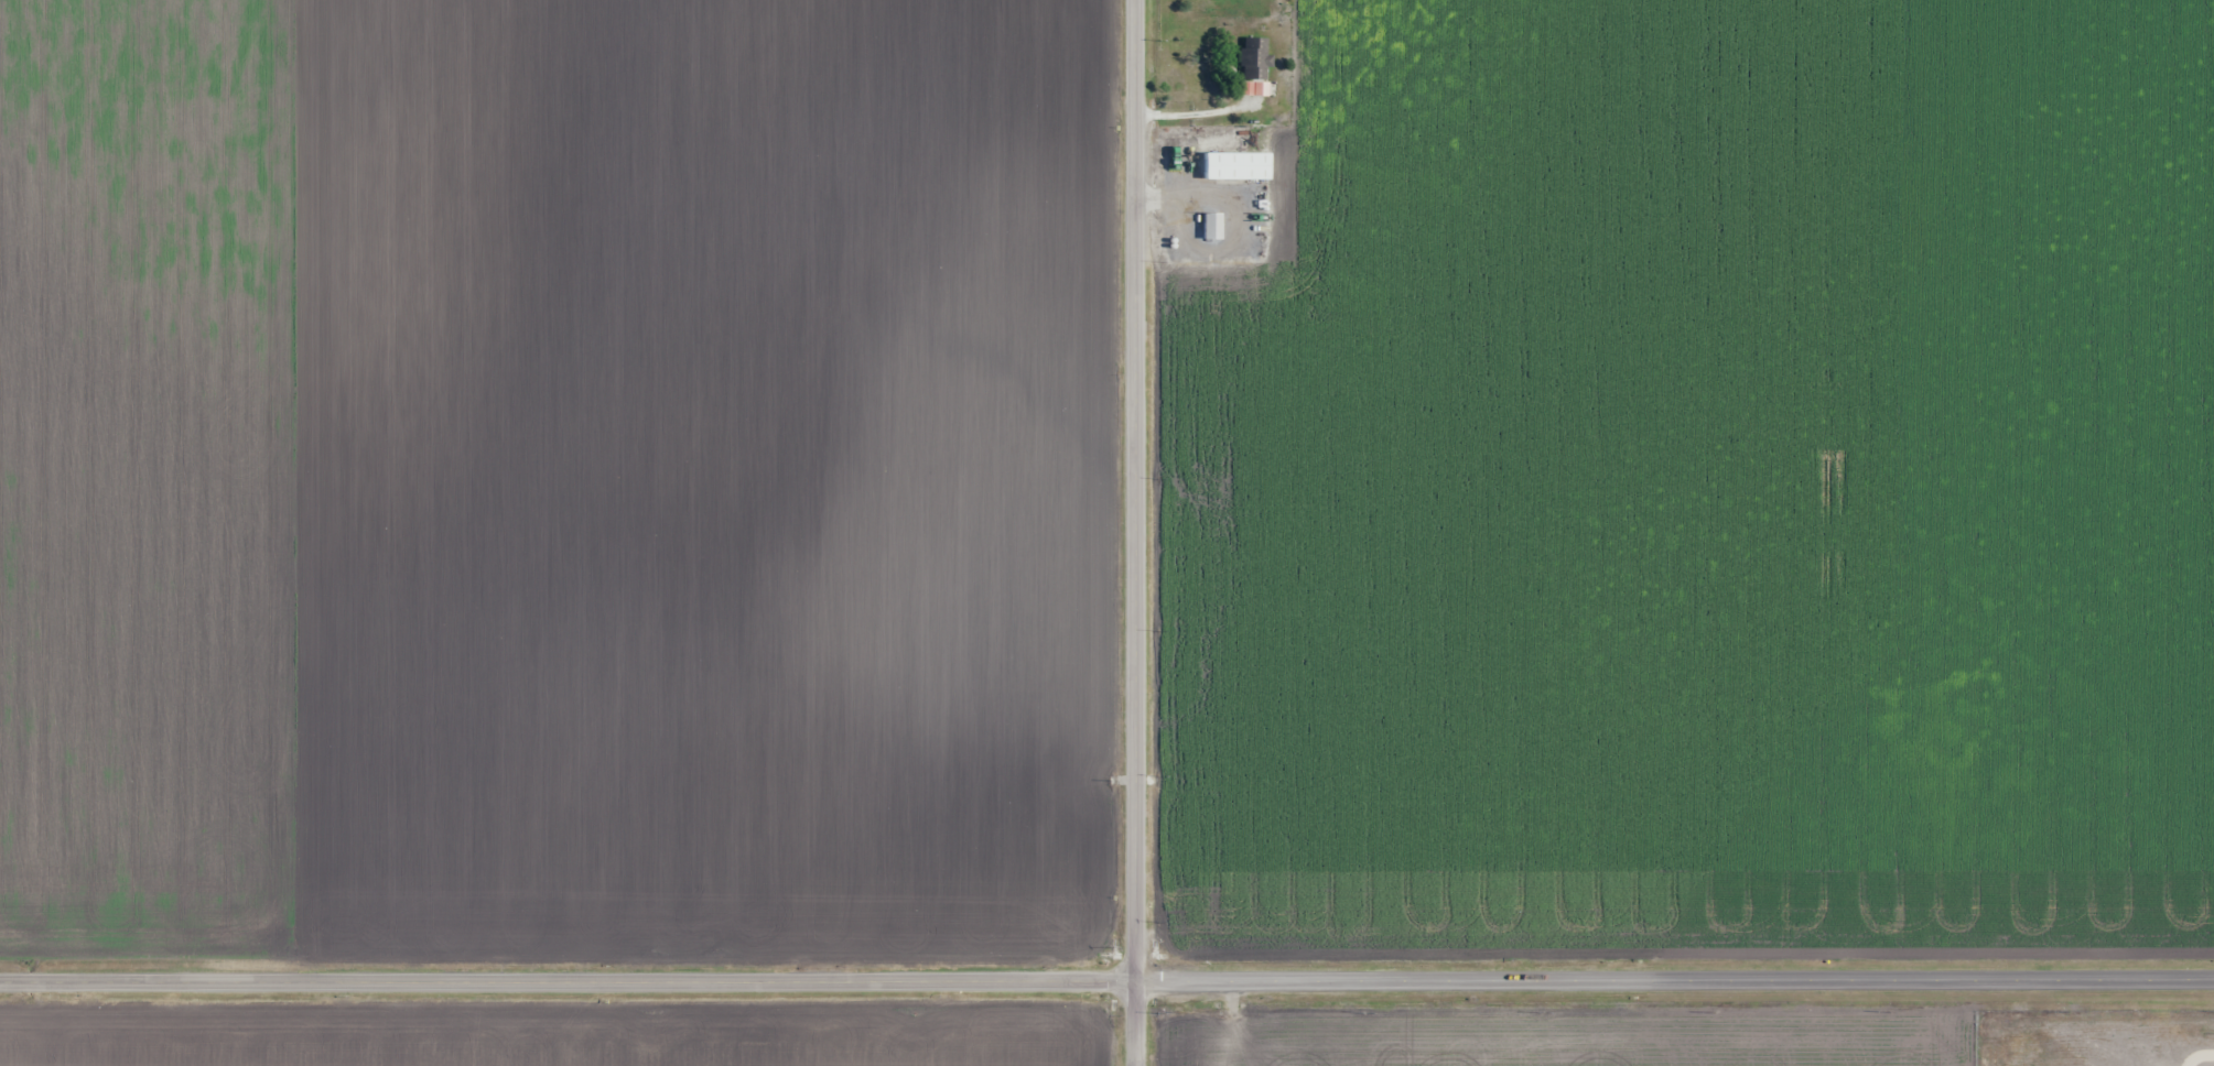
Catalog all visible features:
building: (1253, 57)
building: (1234, 164)
building: (1210, 224)
road: (1134, 533)
road: (1106, 979)
building: (1199, 1065)

